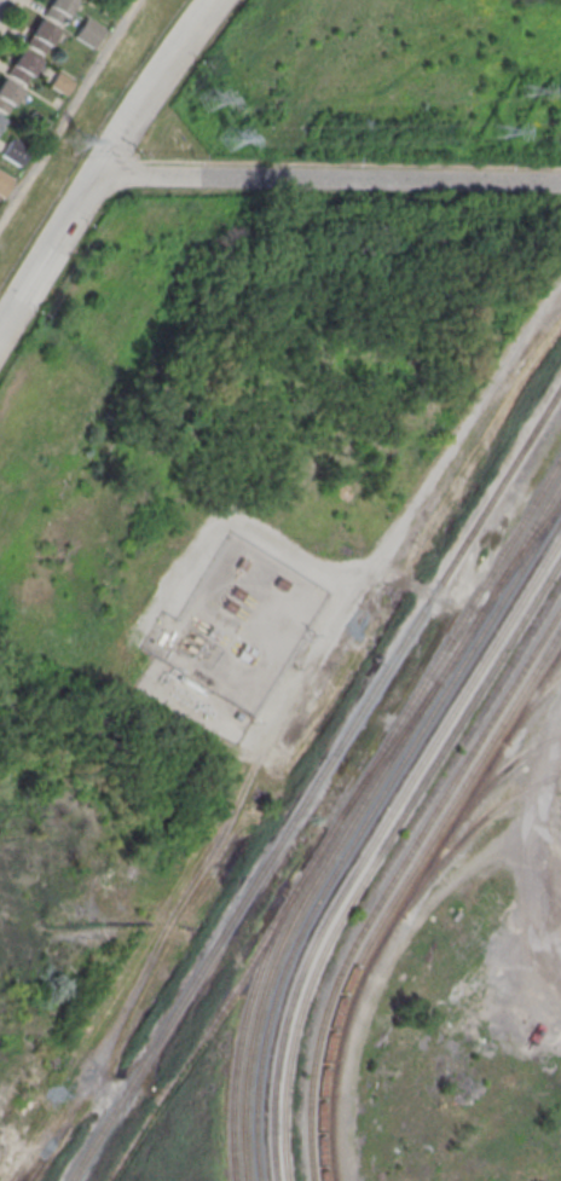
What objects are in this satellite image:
building: (58, 11)
building: (88, 31)
building: (41, 37)
building: (22, 68)
power tower: (519, 87)
power tower: (204, 95)
building: (7, 97)
building: (1, 122)
power tower: (497, 128)
power tower: (232, 134)
power tower: (75, 141)
building: (16, 149)
road: (103, 162)
road: (328, 178)
building: (4, 181)
railway: (516, 552)
railway: (478, 632)
railway: (430, 665)
railway: (436, 667)
railway: (435, 679)
railway: (527, 702)
railway: (314, 780)
road: (526, 822)
railway: (468, 828)
railway: (391, 875)
railway: (397, 886)
railway: (403, 897)
railway: (411, 924)
railway: (283, 960)
railway: (239, 1021)
railway: (251, 1025)
railway: (203, 1029)

